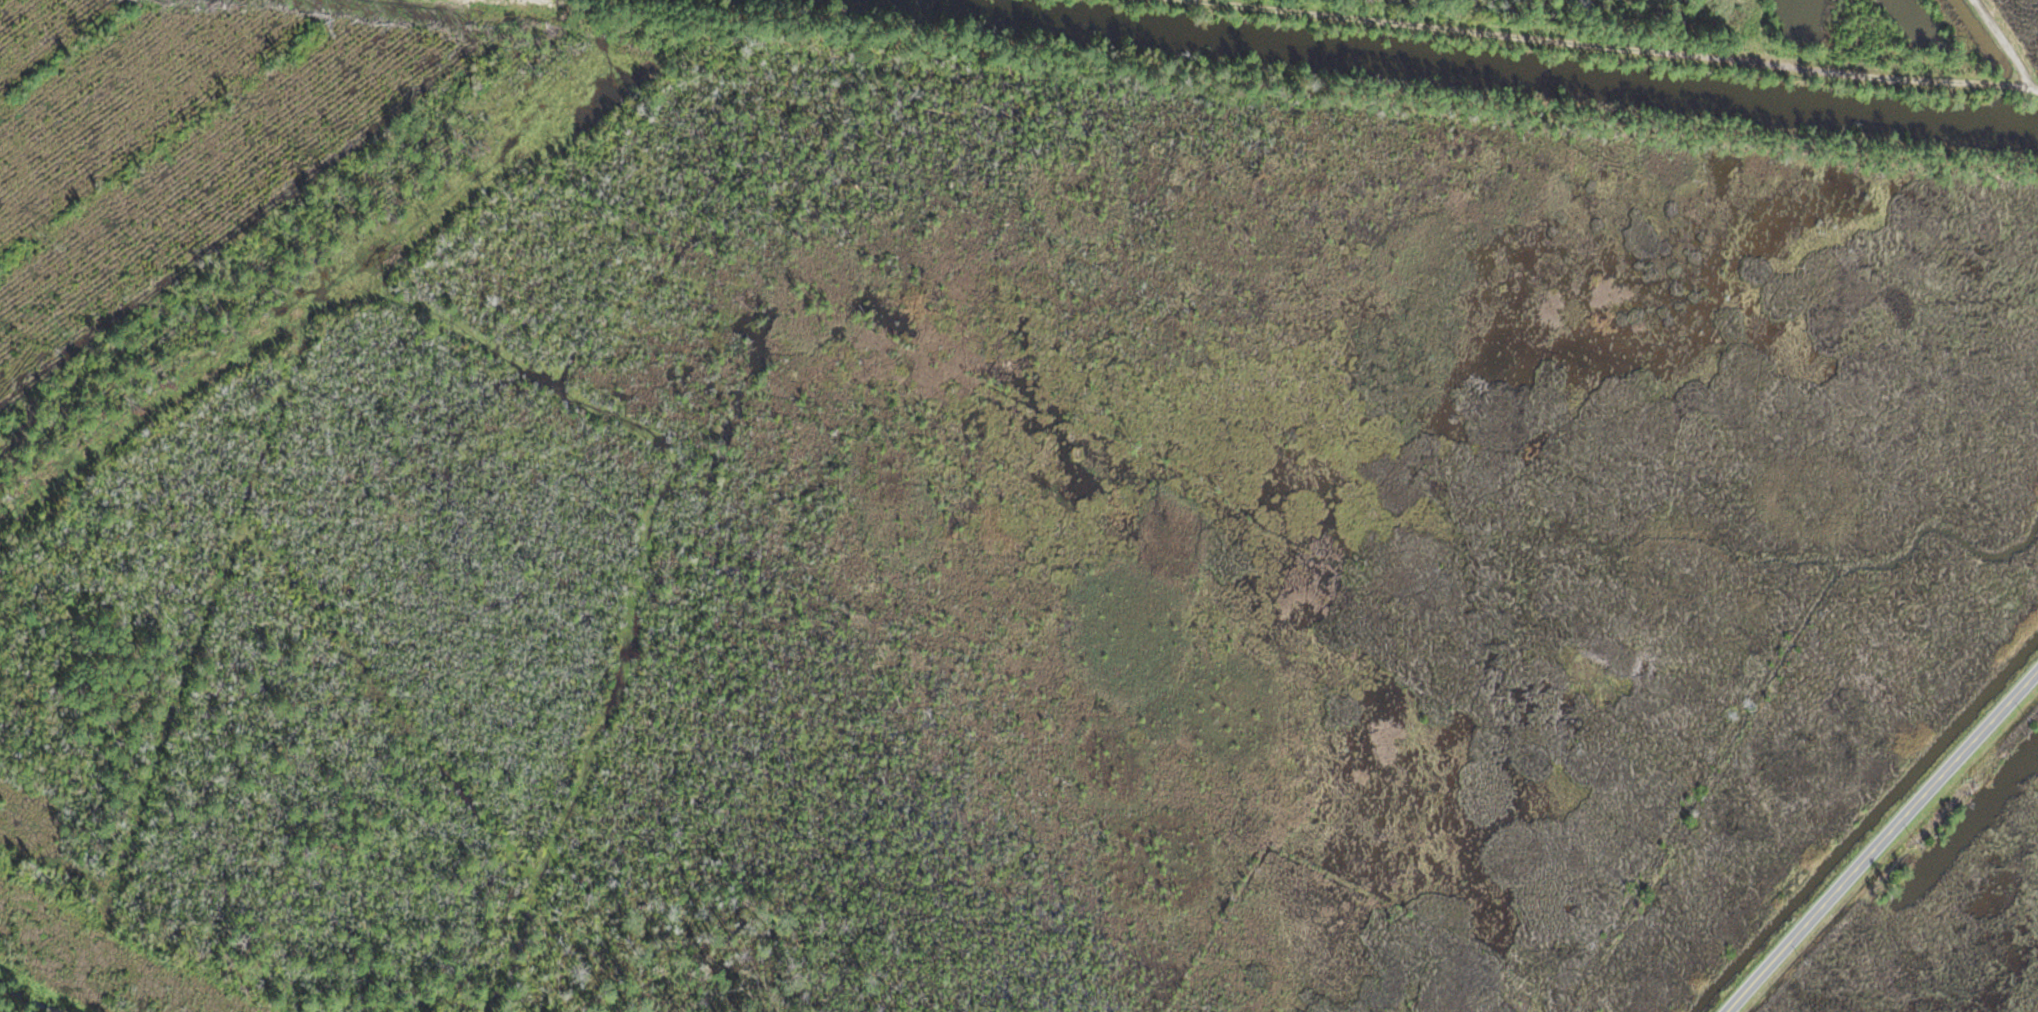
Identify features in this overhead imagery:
road: (1902, 60)
road: (1880, 840)

